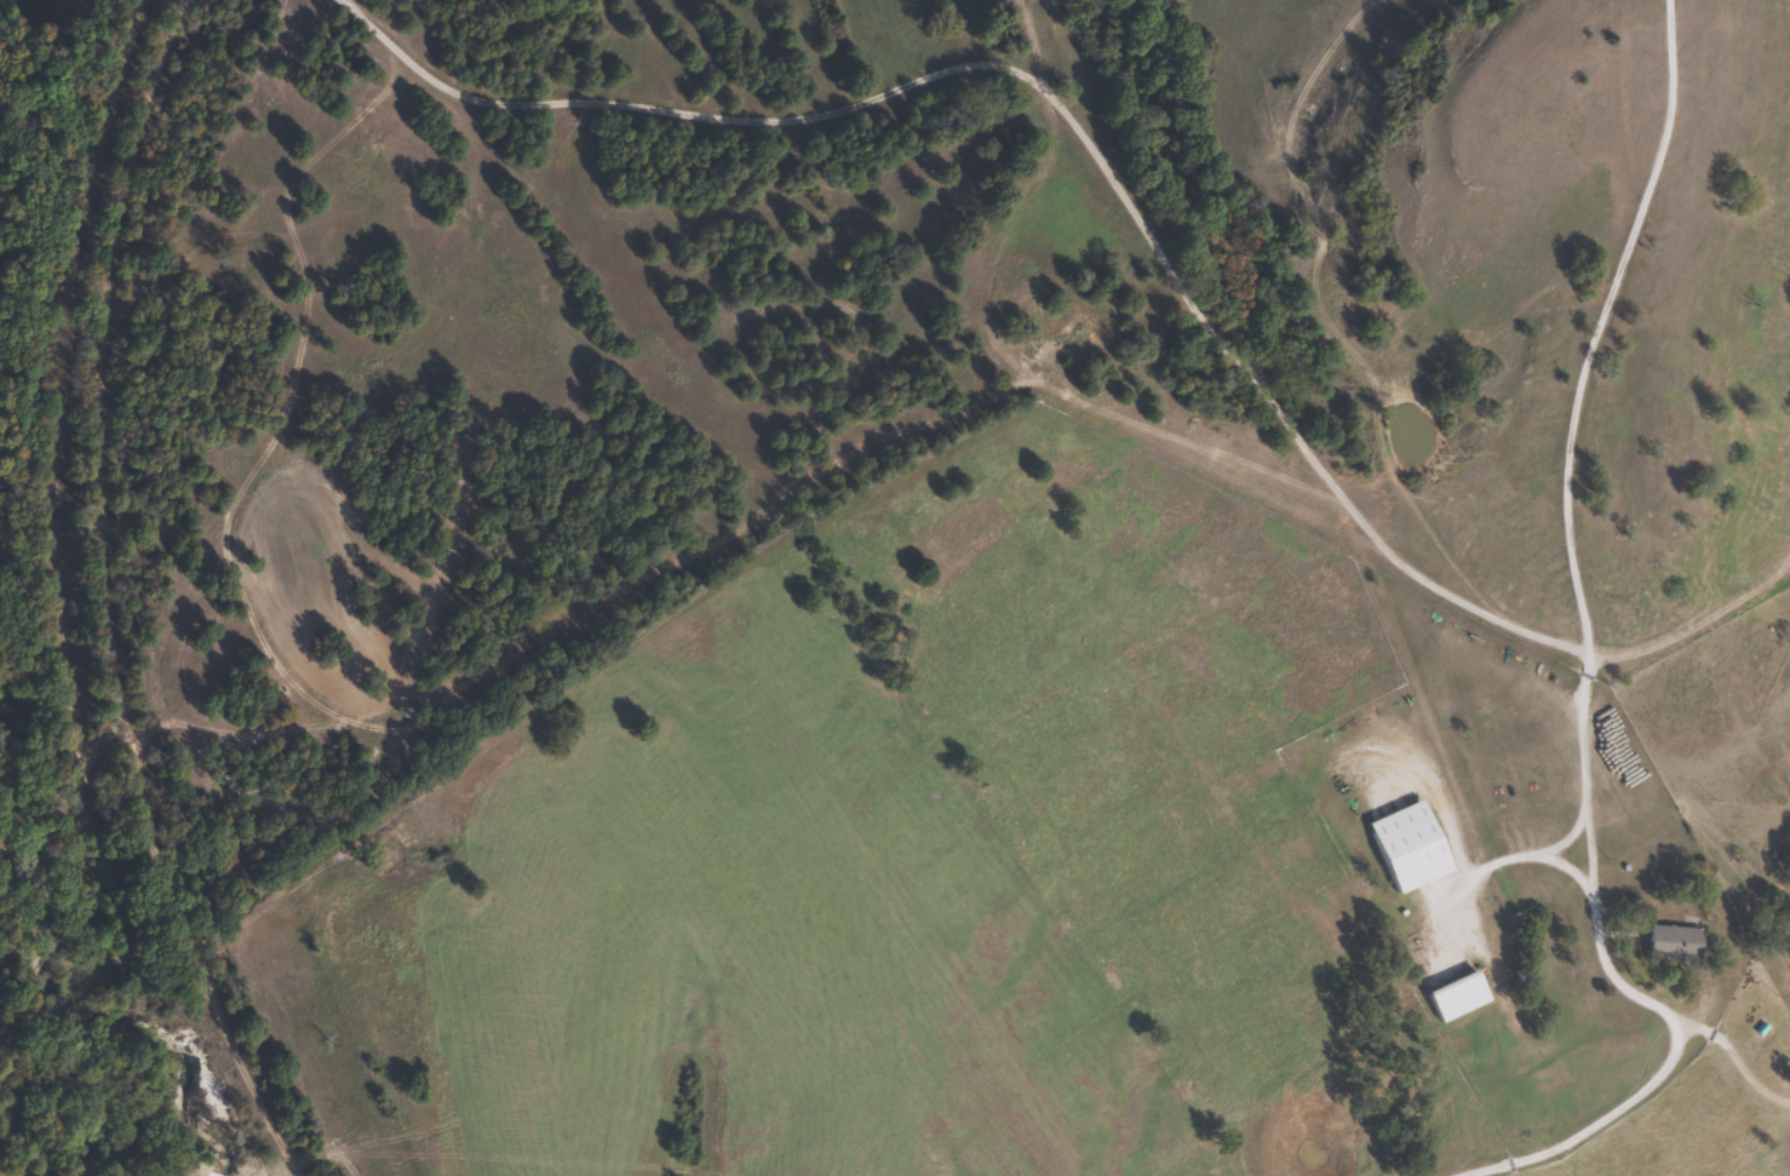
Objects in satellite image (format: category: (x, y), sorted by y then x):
railway: (81, 596)
building: (1409, 845)
building: (1675, 942)
building: (1465, 994)
road: (1533, 1123)

